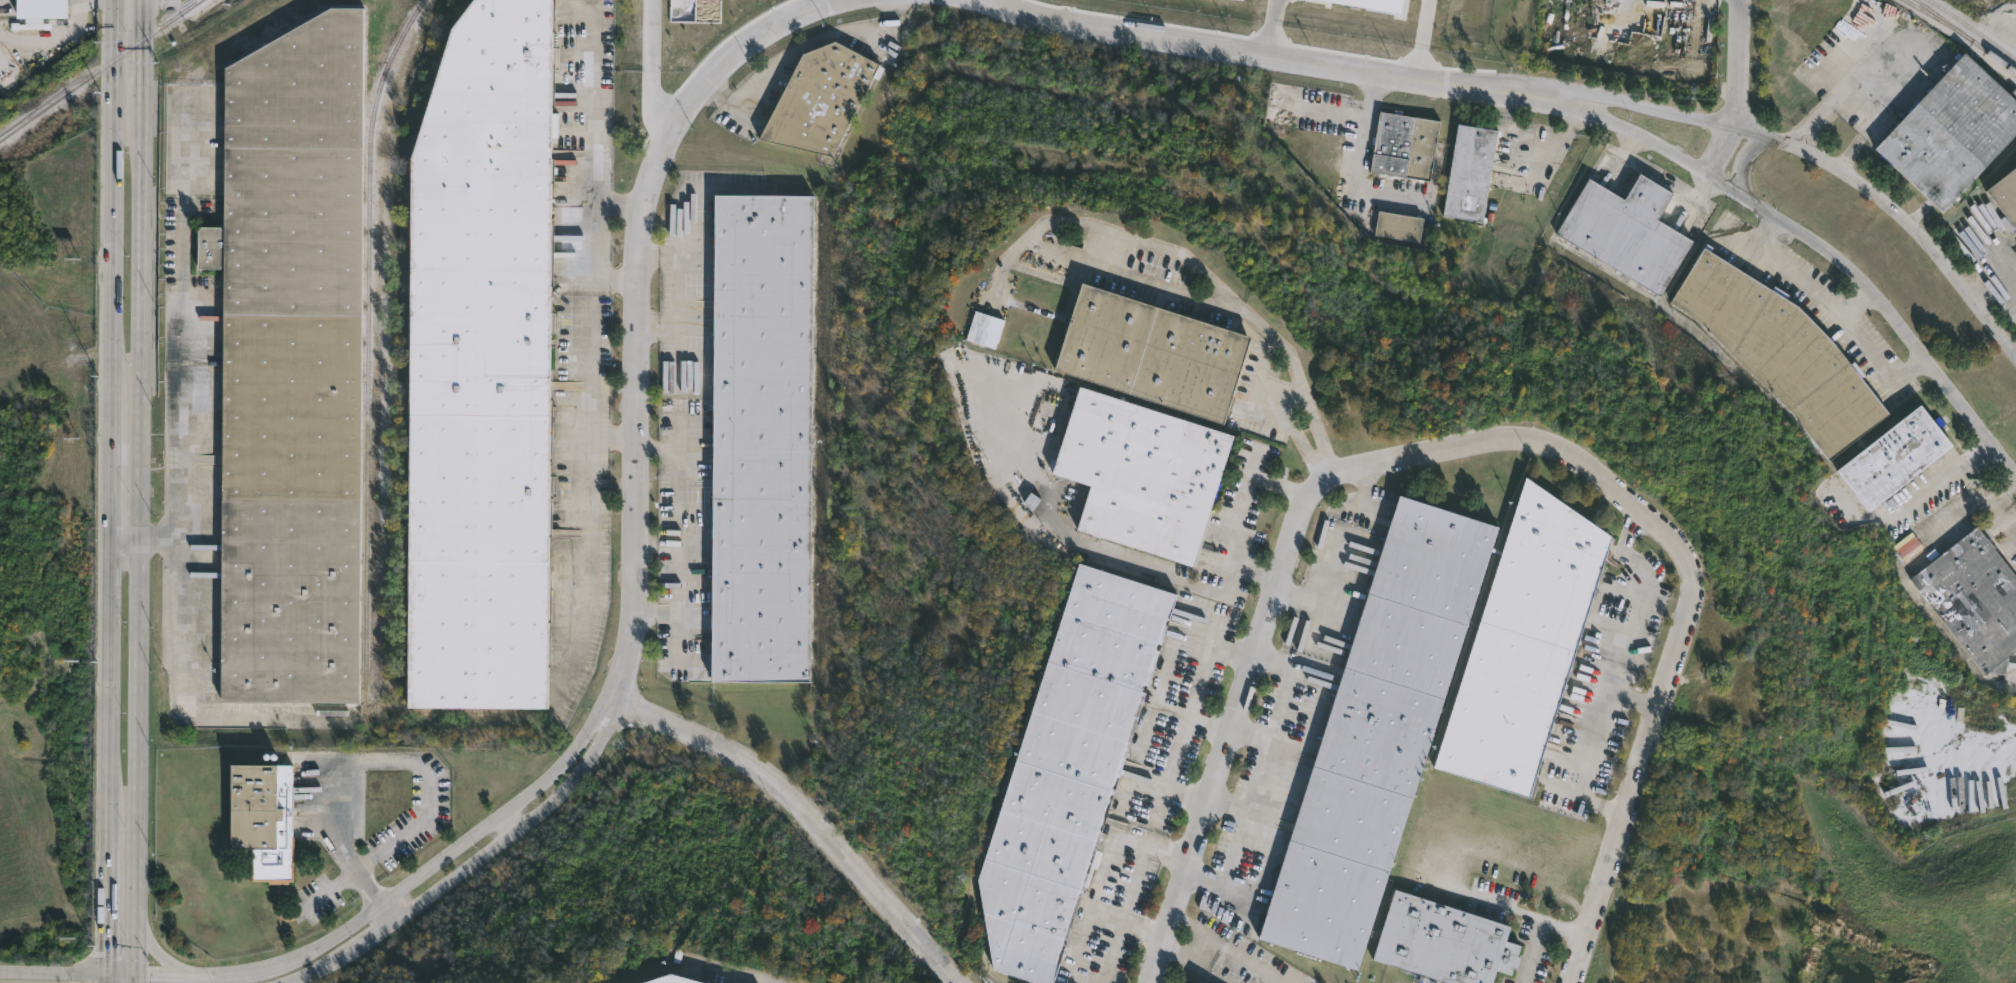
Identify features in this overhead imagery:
building: (43, 8)
road: (1271, 27)
railway: (1972, 29)
road: (59, 32)
railway: (1967, 35)
road: (1422, 38)
railway: (1961, 44)
railway: (1974, 47)
road: (1269, 56)
road: (1735, 62)
railway: (99, 68)
road: (1833, 96)
building: (823, 98)
road: (590, 103)
road: (1324, 111)
building: (1951, 134)
building: (1402, 147)
road: (1723, 151)
road: (1746, 161)
road: (1359, 164)
road: (1827, 166)
building: (1468, 174)
road: (1661, 177)
building: (2005, 196)
road: (617, 198)
building: (1397, 227)
building: (1625, 231)
road: (590, 236)
road: (1824, 247)
building: (1041, 271)
road: (614, 273)
road: (1992, 276)
road: (678, 289)
road: (1853, 300)
road: (1833, 307)
road: (638, 308)
road: (1236, 309)
building: (983, 328)
railway: (368, 334)
road: (187, 340)
railway: (404, 348)
building: (1148, 350)
building: (1780, 350)
building: (292, 364)
building: (481, 366)
road: (590, 375)
building: (762, 438)
road: (613, 439)
road: (1478, 442)
building: (1894, 456)
building: (1138, 472)
road: (1942, 475)
road: (110, 486)
road: (138, 491)
road: (1998, 511)
road: (1232, 518)
road: (678, 530)
road: (124, 540)
road: (656, 545)
road: (589, 559)
building: (1974, 599)
building: (1522, 643)
road: (1204, 658)
road: (1622, 670)
road: (1637, 699)
building: (1377, 727)
road: (1251, 734)
road: (389, 752)
road: (1176, 752)
building: (1067, 769)
road: (1259, 775)
road: (1228, 807)
road: (809, 815)
building: (264, 818)
road: (509, 823)
road: (467, 865)
road: (1101, 874)
road: (402, 890)
road: (1492, 896)
road: (392, 909)
road: (1539, 928)
building: (1441, 942)
road: (1230, 948)
road: (159, 951)
road: (1190, 965)
road: (54, 972)
traffic signals: (109, 973)
road: (122, 973)
traffic signals: (135, 973)
road: (109, 978)
building: (674, 978)
building: (1199, 982)
building: (1225, 982)

